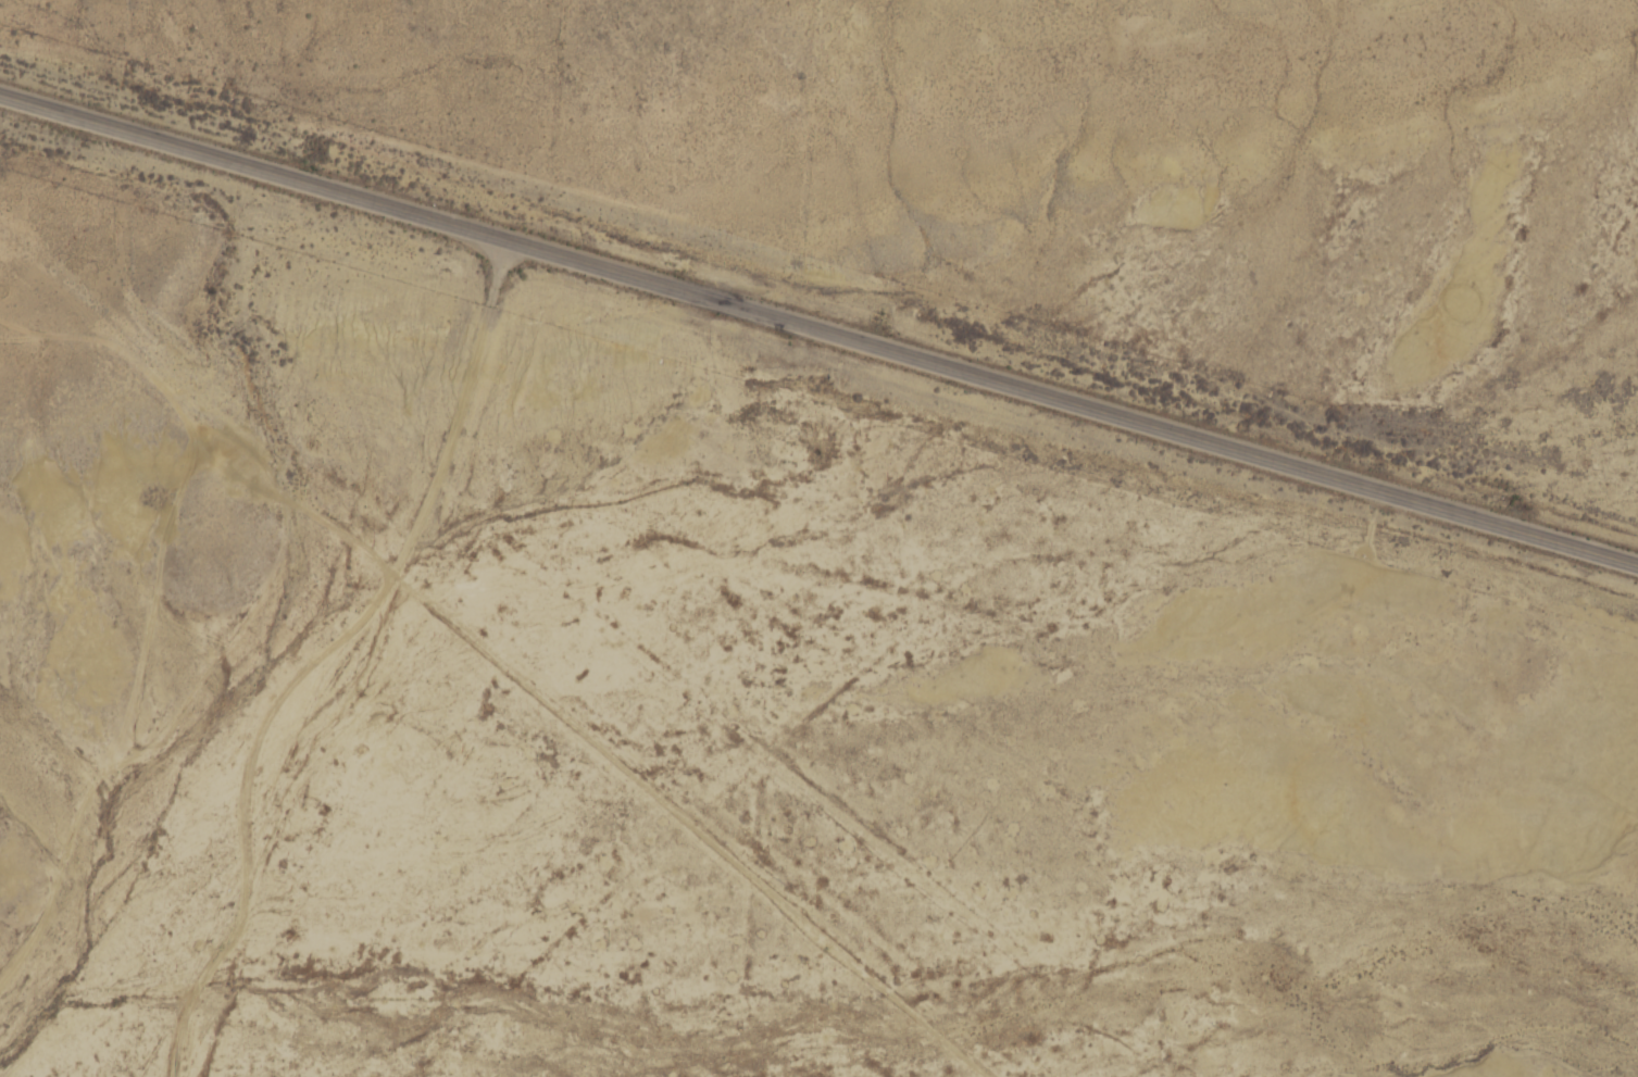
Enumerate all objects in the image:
road: (818, 330)
road: (147, 710)
road: (965, 904)
road: (292, 912)

